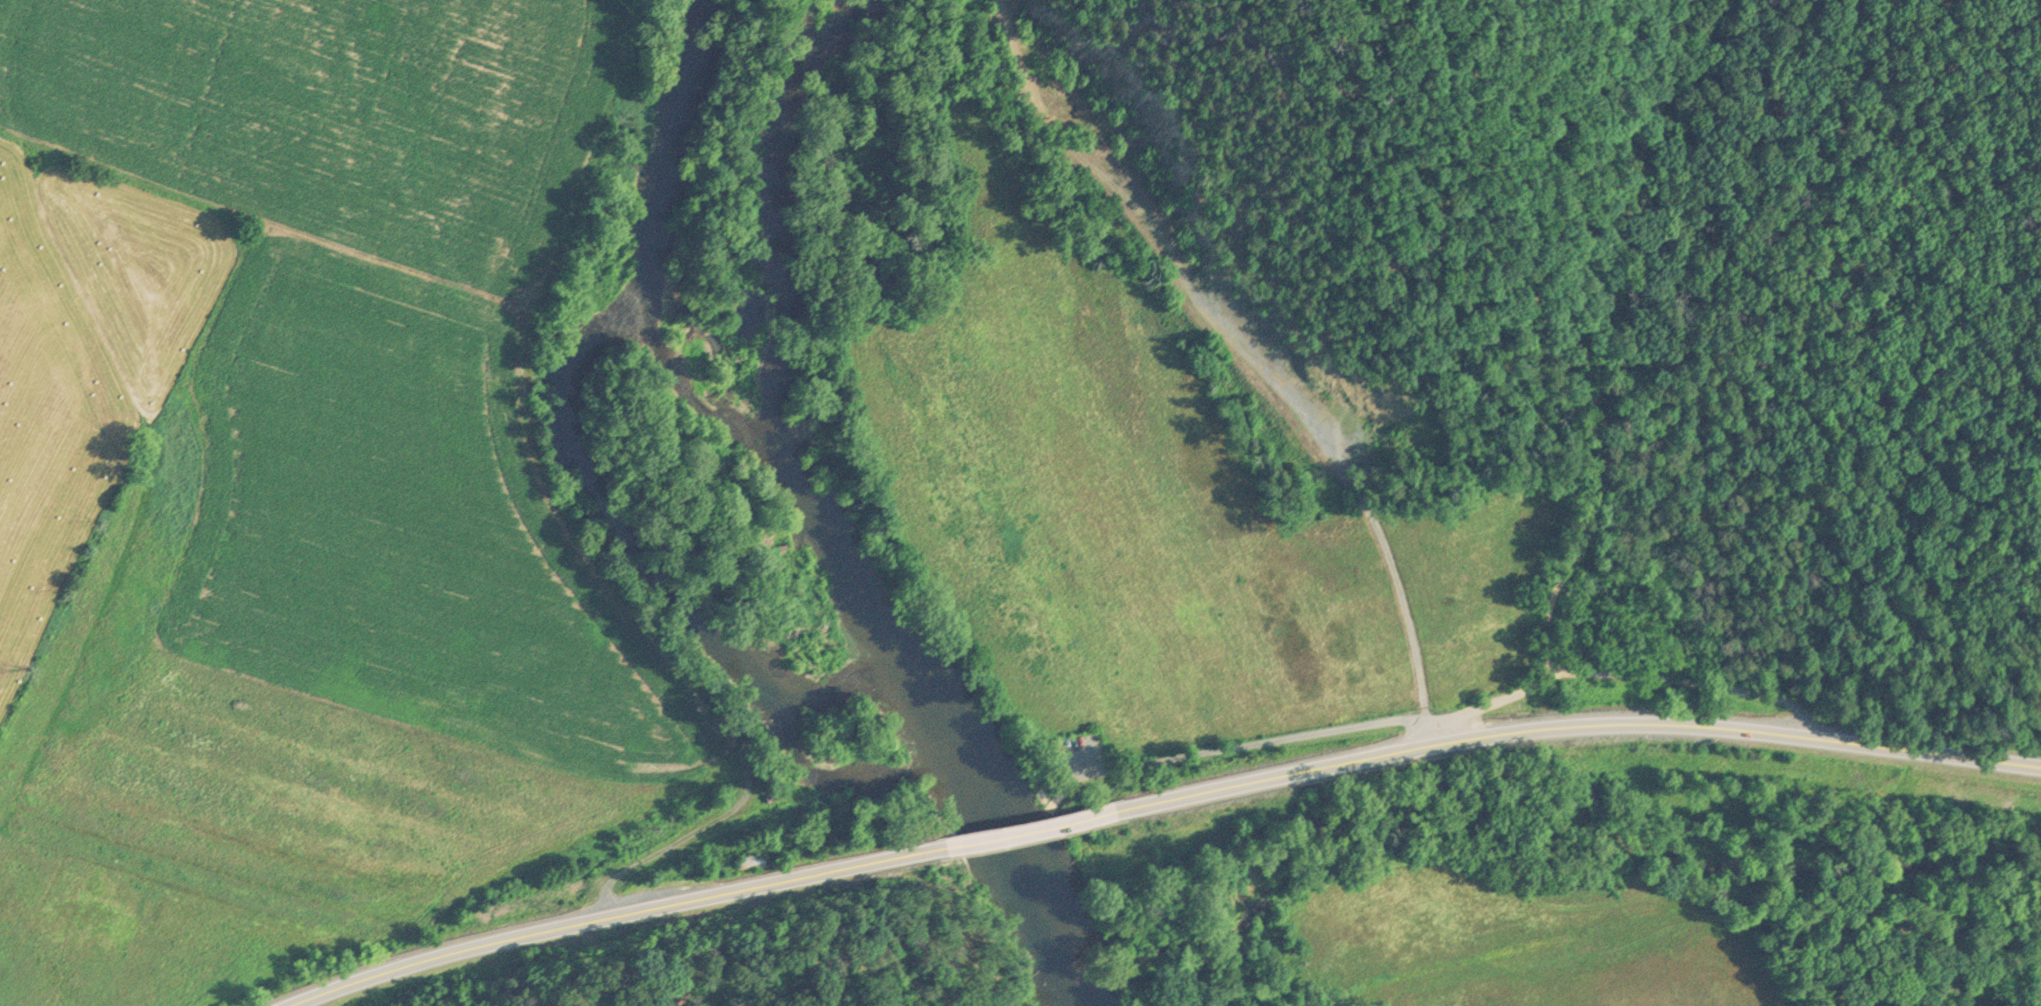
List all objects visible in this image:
road: (1595, 396)
road: (1344, 452)
river: (808, 522)
road: (1703, 683)
road: (1564, 728)
road: (1014, 833)
building: (750, 860)
road: (614, 915)
crop: (1516, 944)

